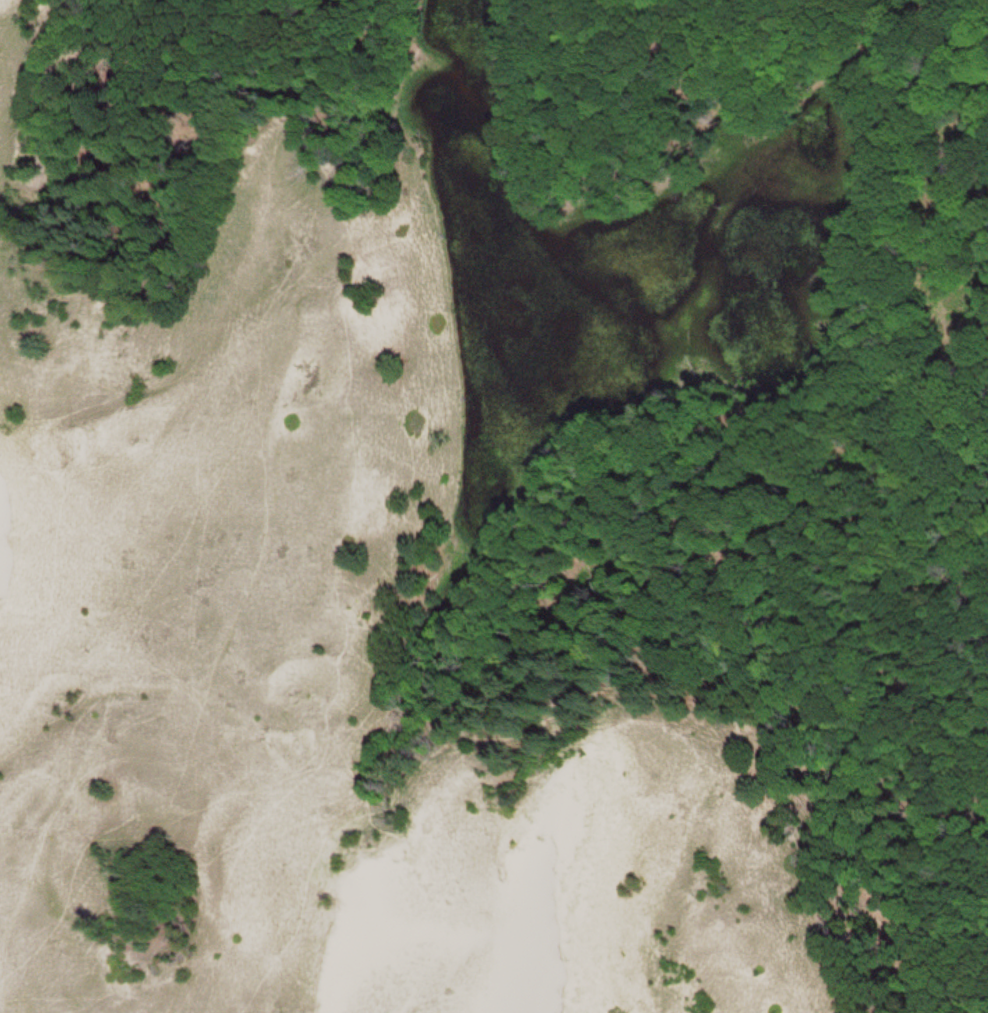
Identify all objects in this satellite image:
park: (494, 506)

